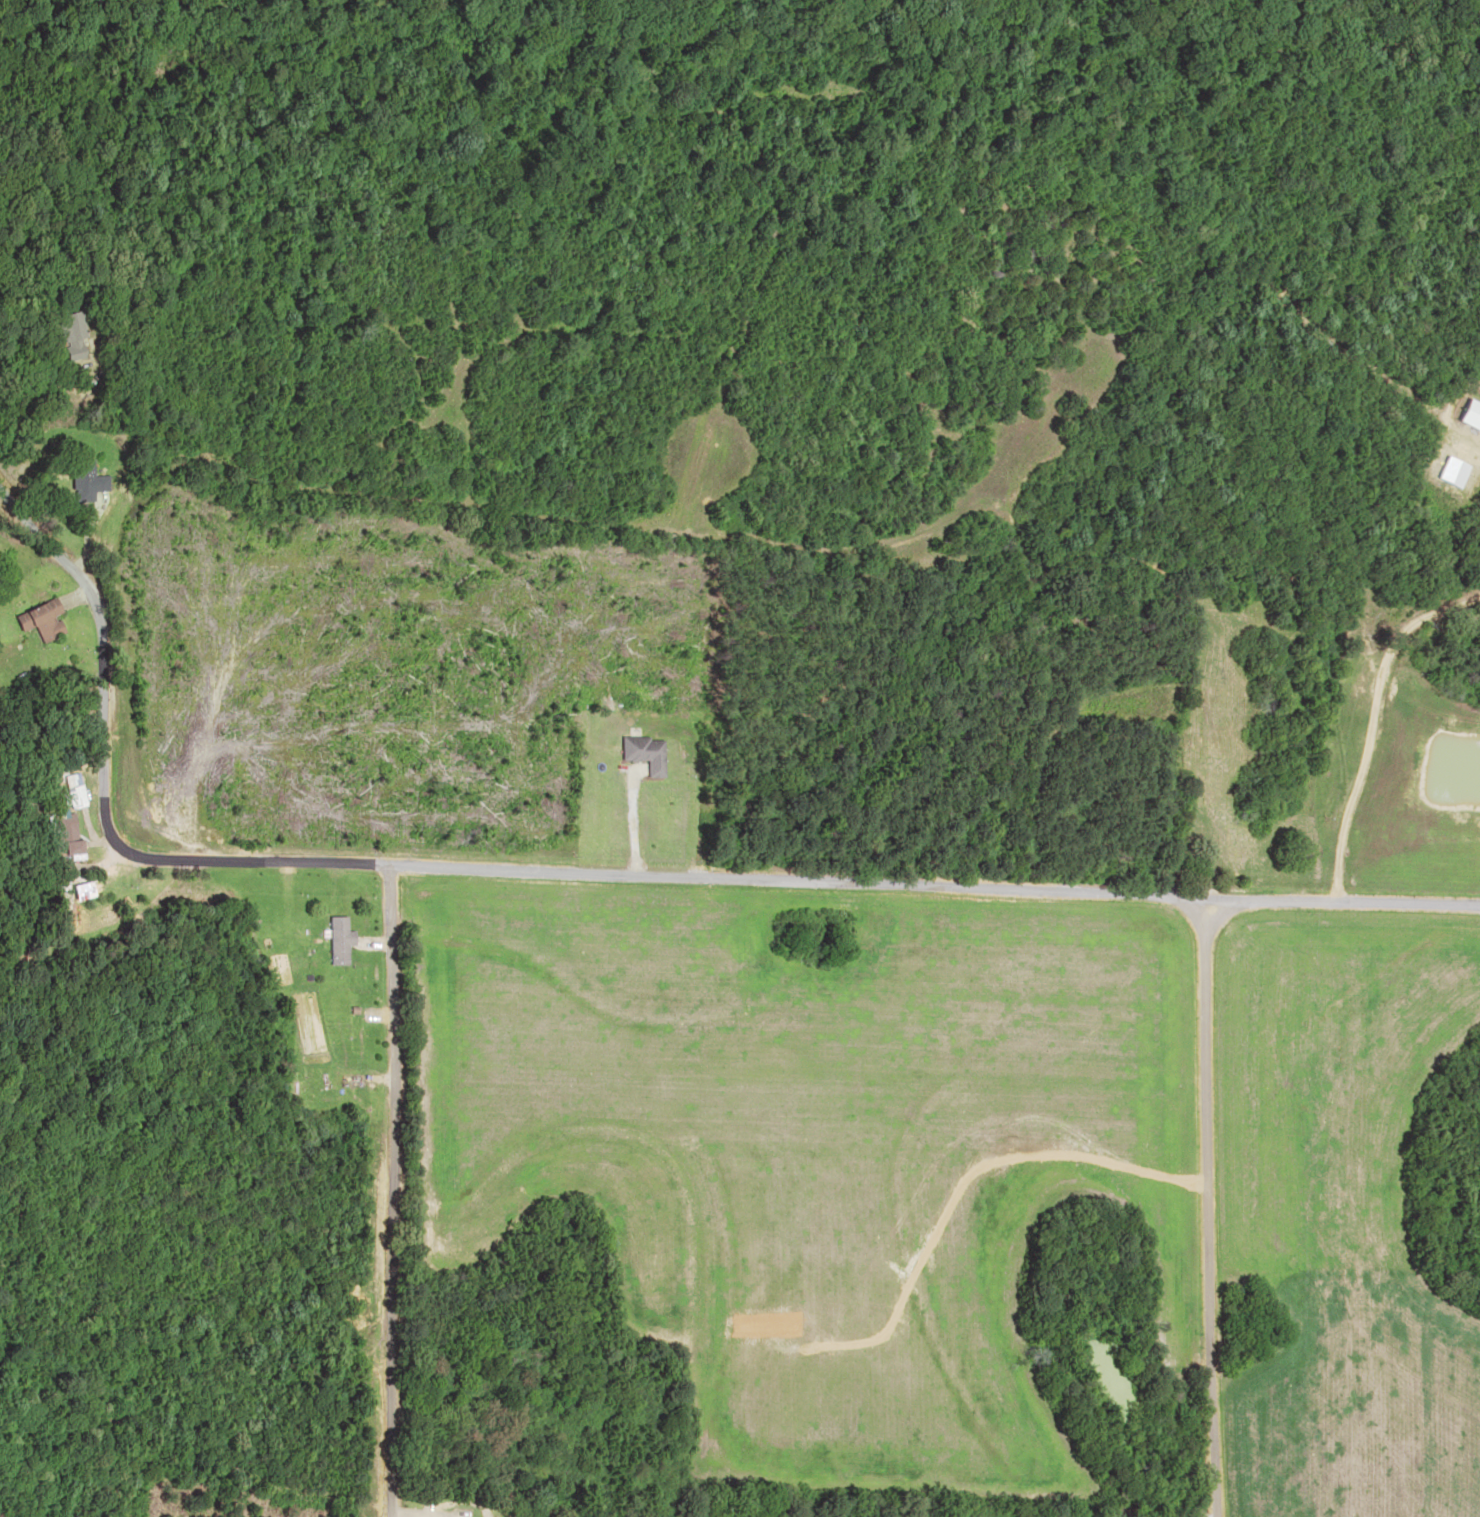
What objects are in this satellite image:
building: (64, 335)
building: (77, 482)
building: (37, 620)
building: (1205, 699)
building: (1201, 745)
building: (647, 752)
building: (69, 790)
building: (1206, 796)
building: (57, 833)
building: (1235, 843)
road: (604, 896)
building: (337, 939)
road: (399, 1207)
road: (1208, 1213)

